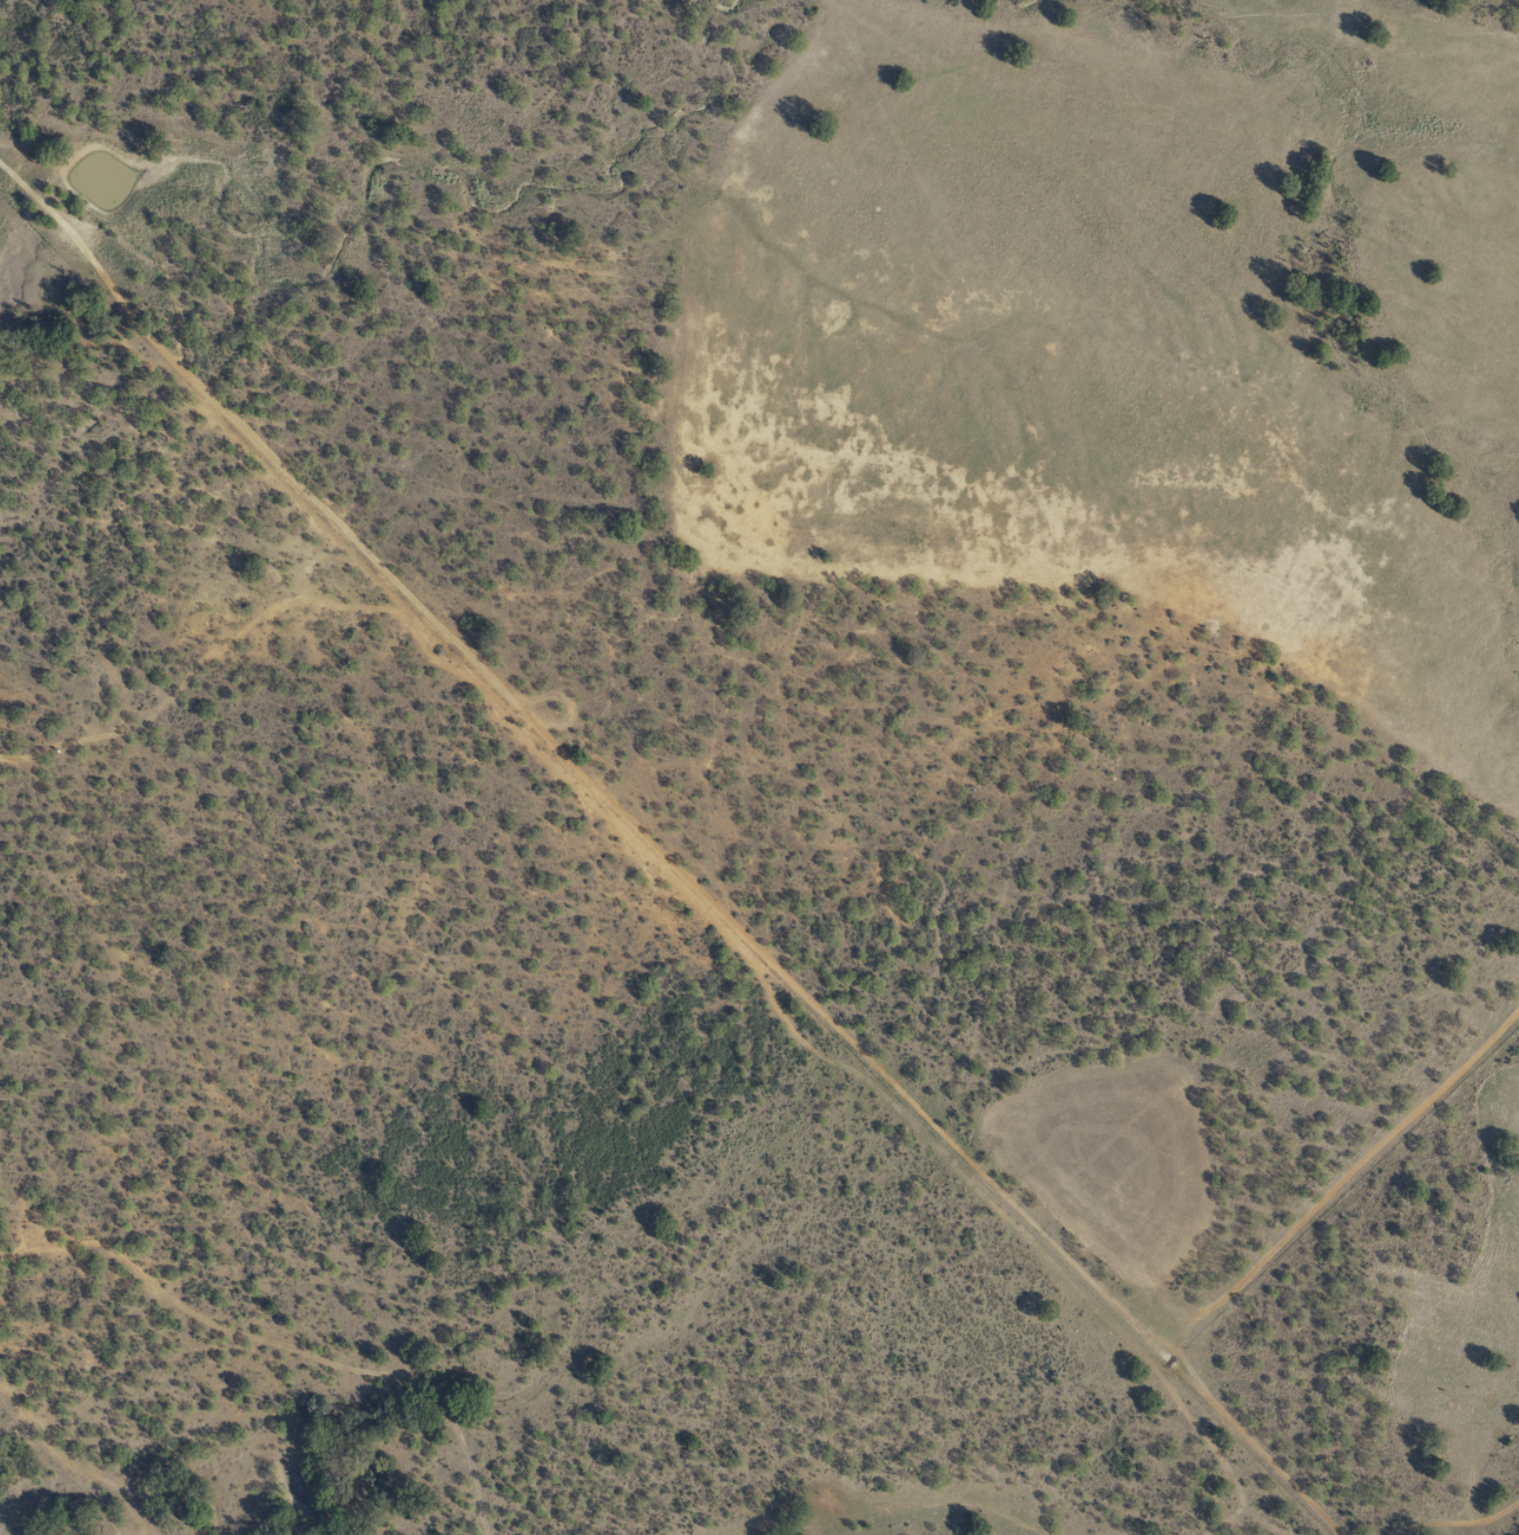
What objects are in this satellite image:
road: (1230, 1237)
road: (1493, 1522)

